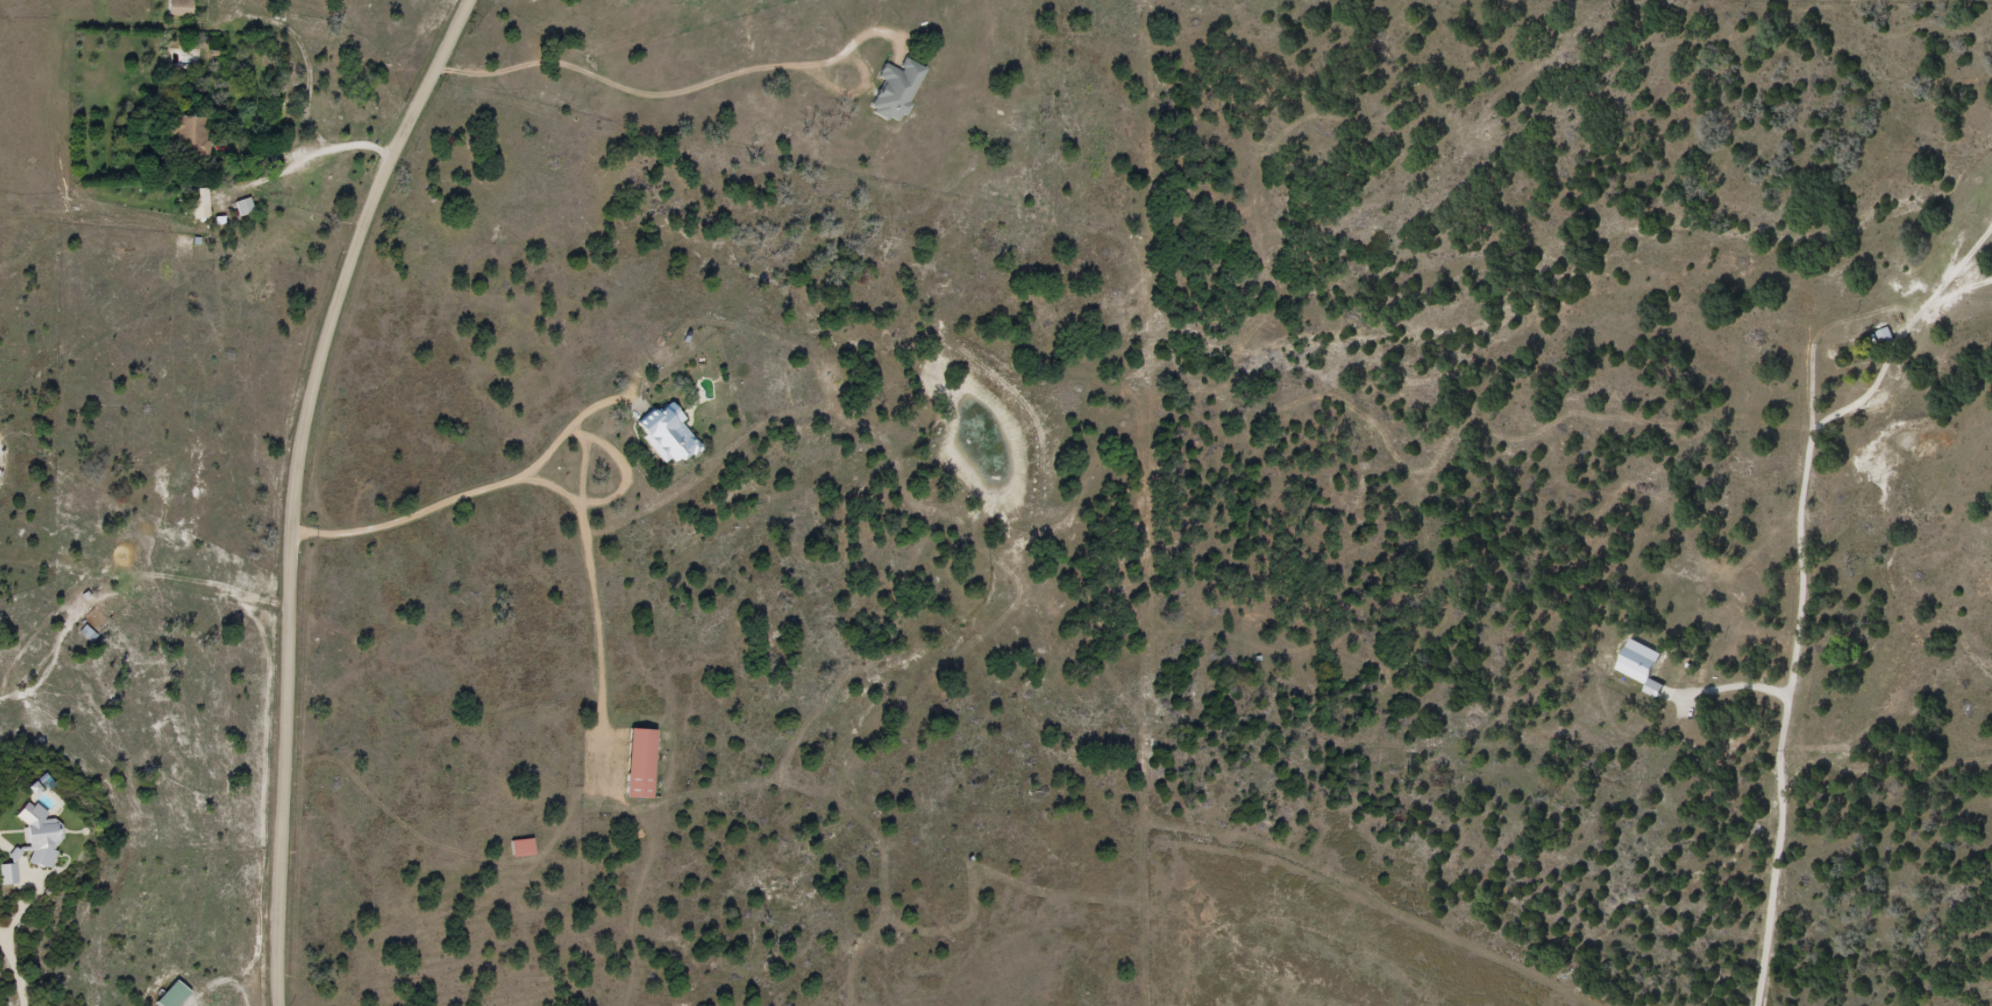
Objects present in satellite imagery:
building: (179, 8)
building: (896, 91)
building: (192, 138)
building: (200, 198)
building: (245, 208)
building: (1884, 337)
building: (667, 436)
road: (295, 482)
road: (1891, 487)
building: (1640, 667)
building: (639, 765)
building: (39, 838)
building: (522, 849)
building: (8, 875)
building: (173, 996)

